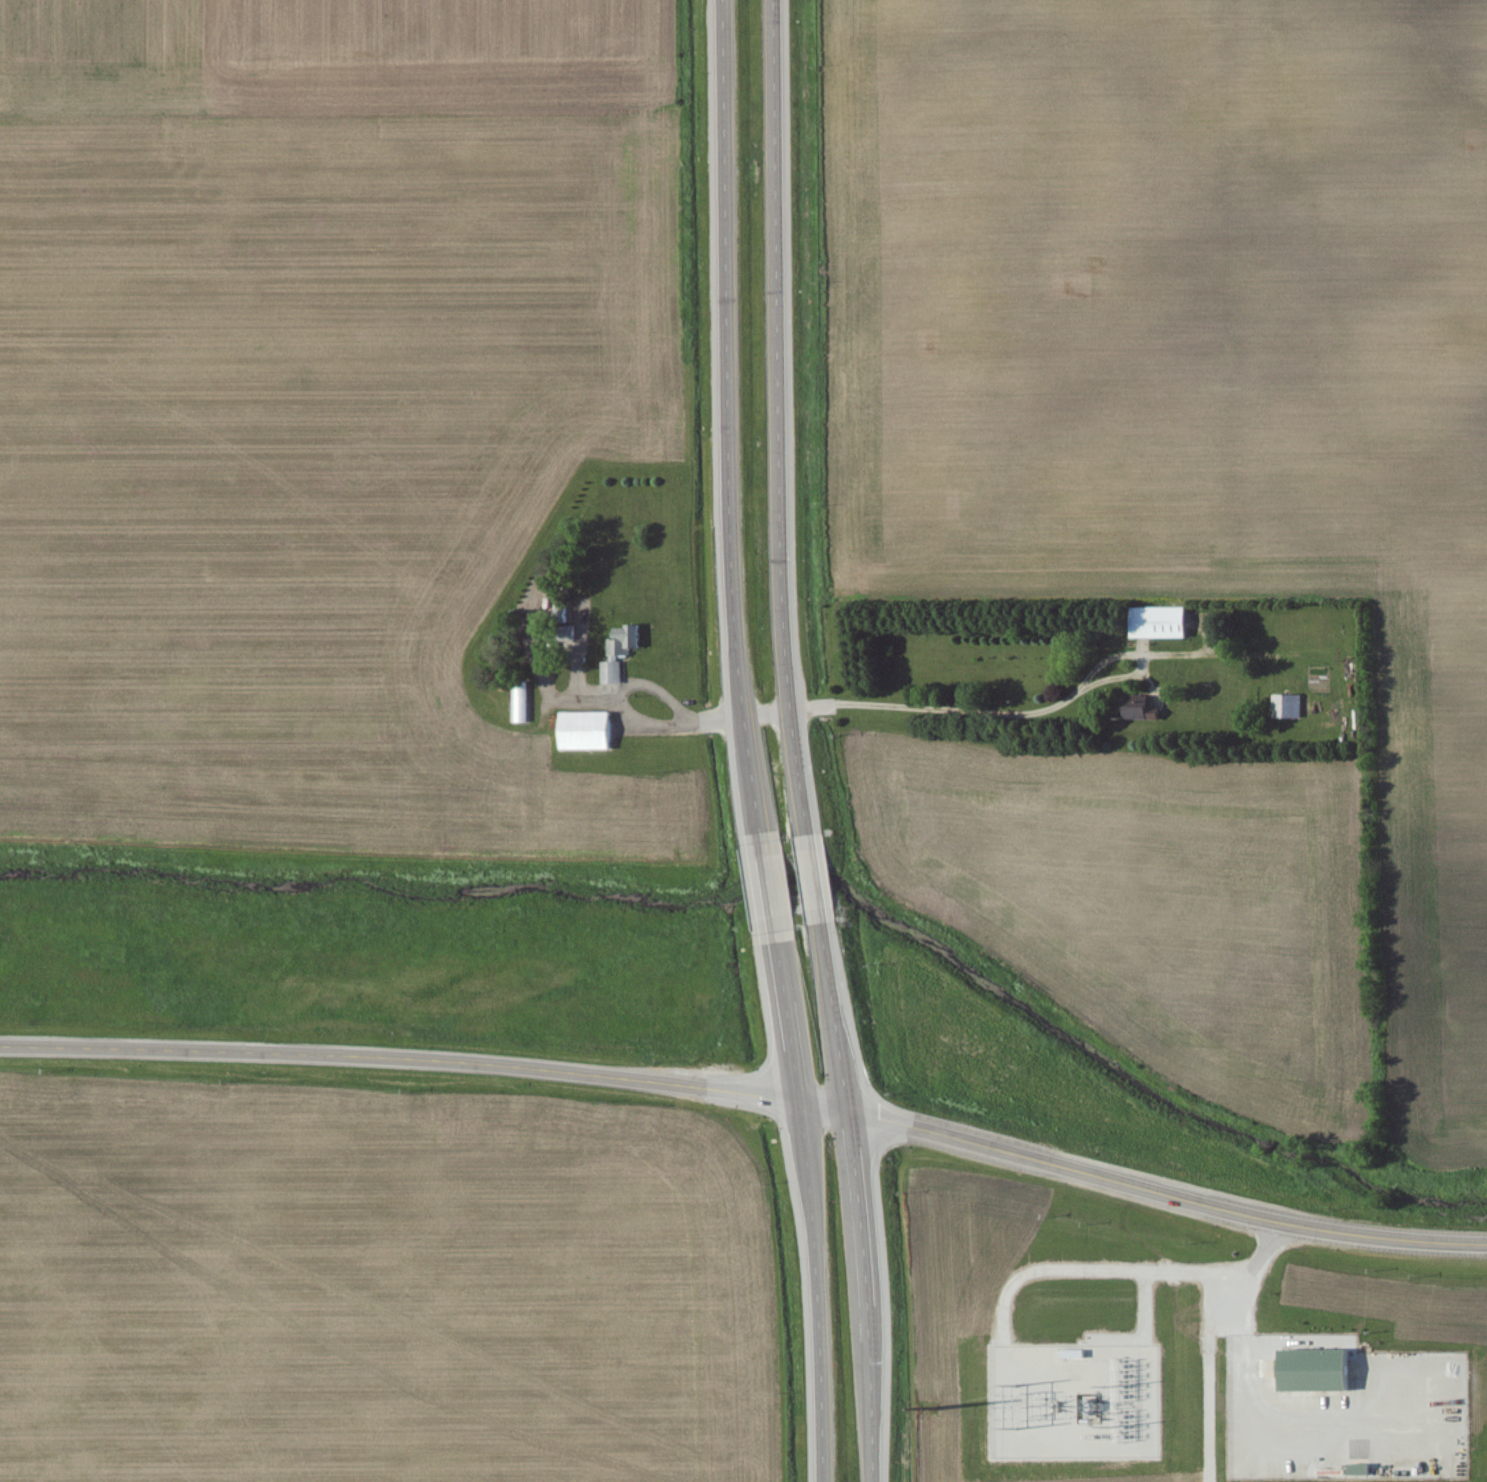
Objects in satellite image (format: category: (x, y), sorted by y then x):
building: (1162, 623)
building: (622, 652)
road: (619, 693)
road: (906, 705)
building: (1141, 707)
building: (1289, 707)
building: (589, 731)
road: (749, 742)
road: (797, 743)
road: (750, 1097)
road: (1210, 1329)
building: (1319, 1372)
power substation: (1072, 1399)
power tower: (930, 1406)

